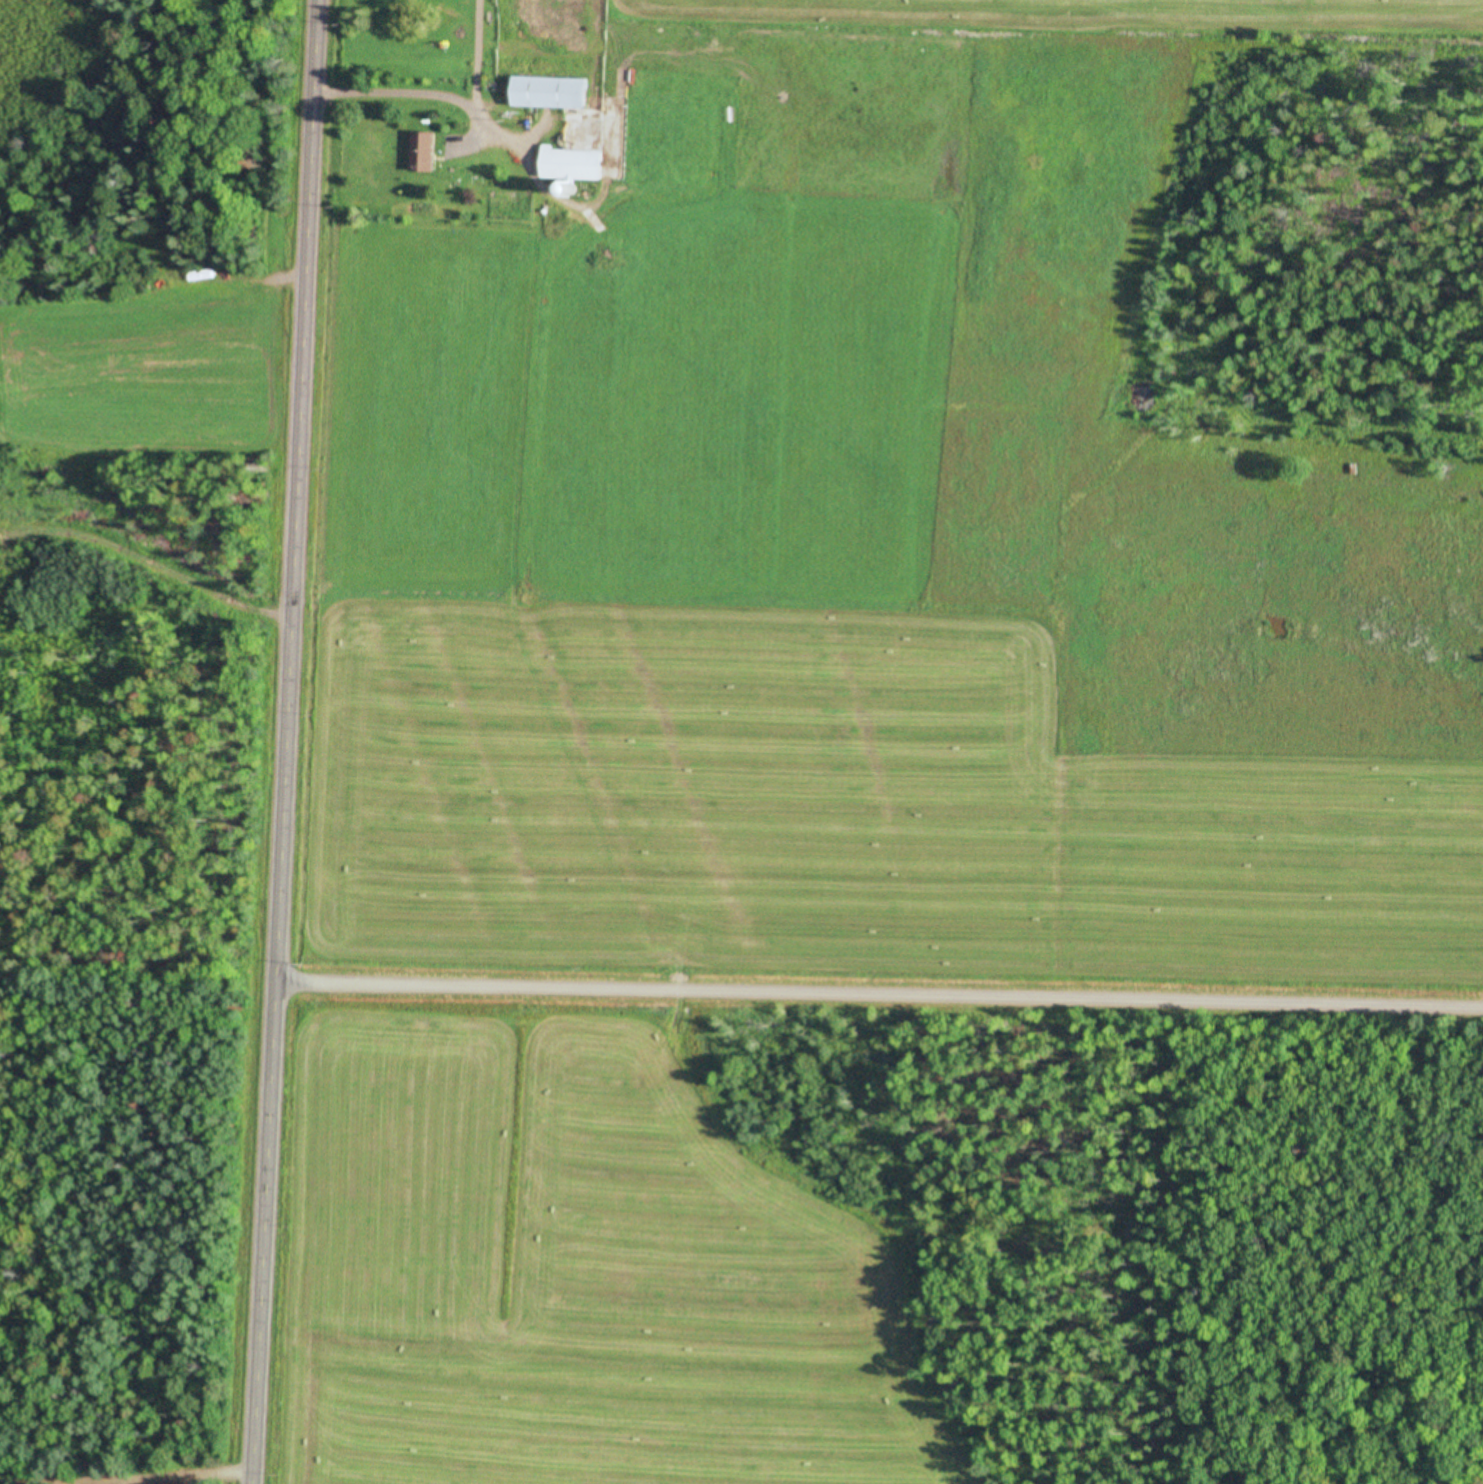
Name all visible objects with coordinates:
road: (479, 54)
building: (554, 94)
road: (440, 95)
building: (426, 153)
building: (574, 166)
road: (290, 742)
road: (882, 994)

